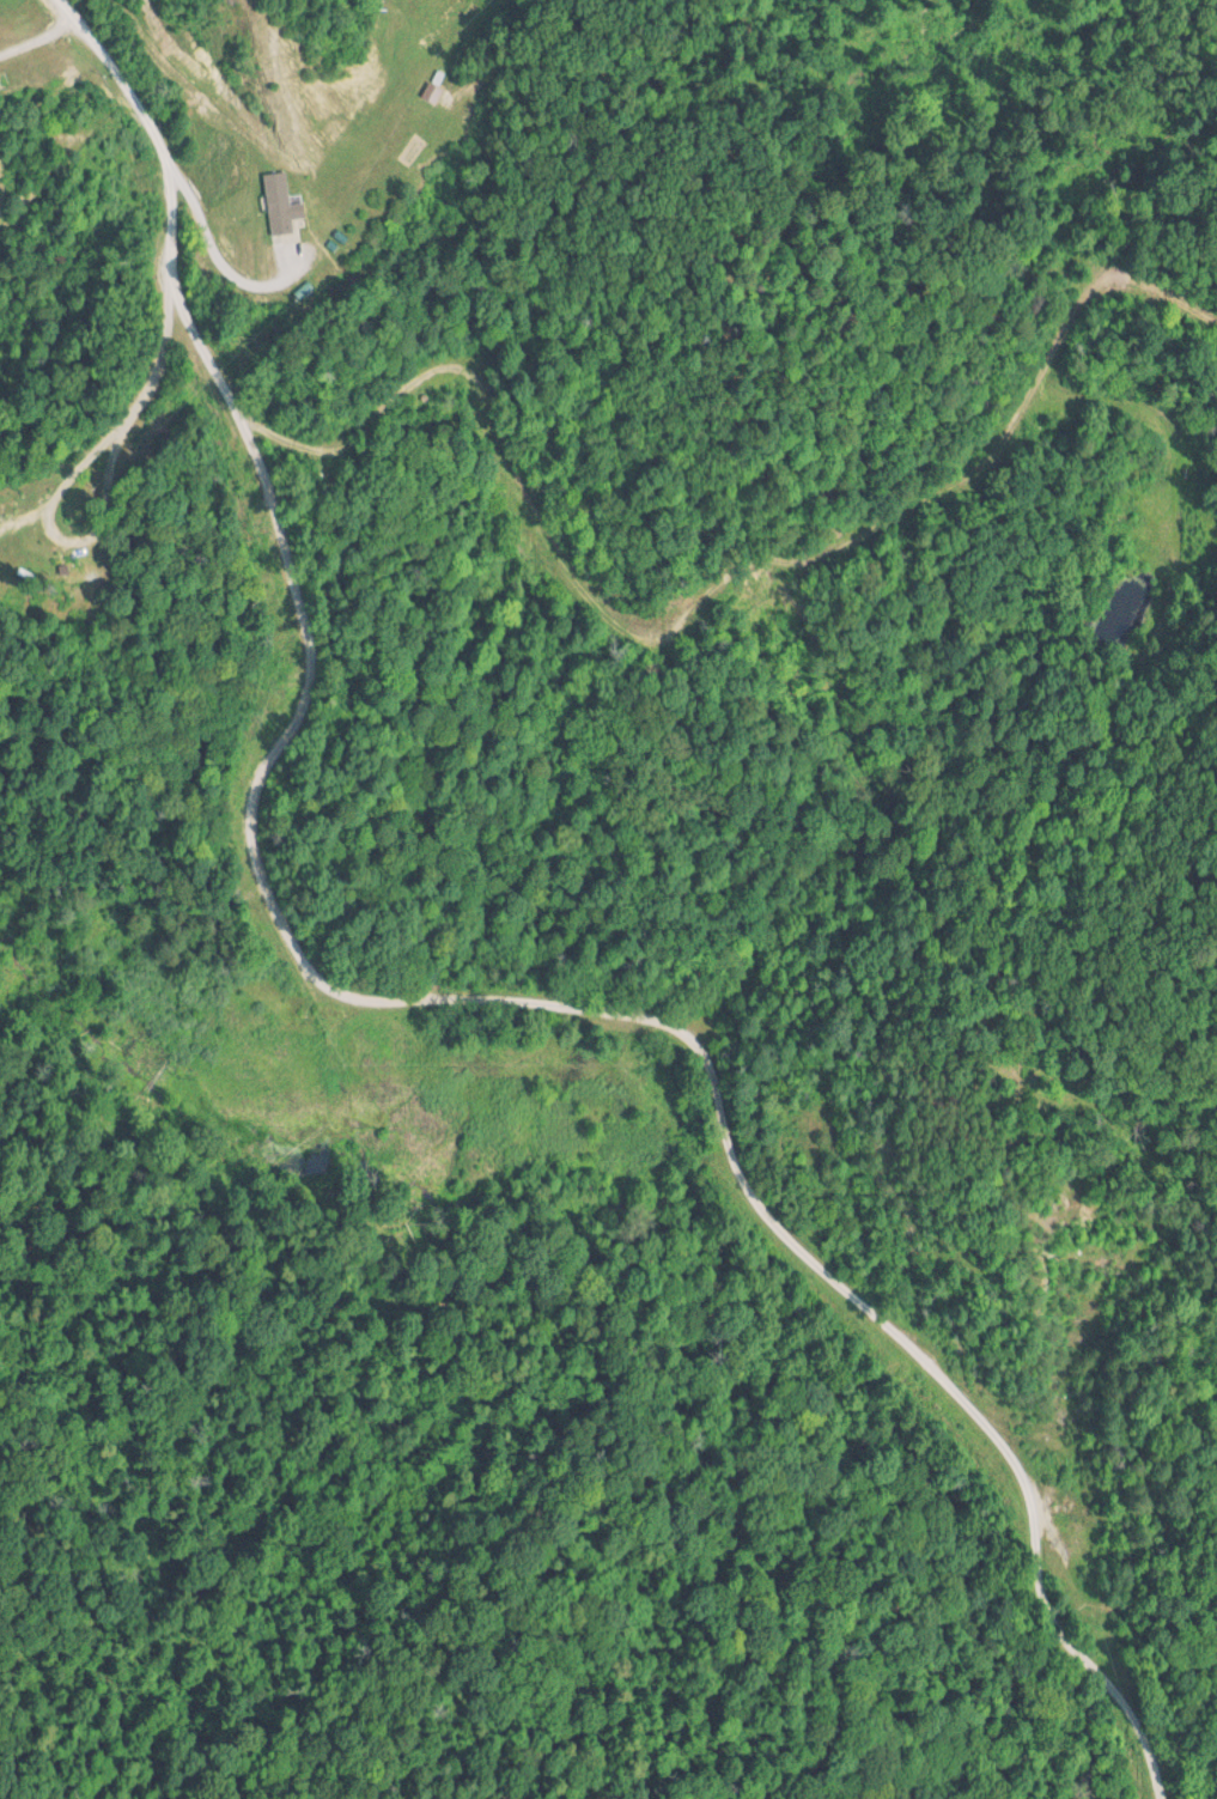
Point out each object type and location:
road: (38, 45)
building: (267, 205)
building: (69, 578)
road: (436, 1001)

